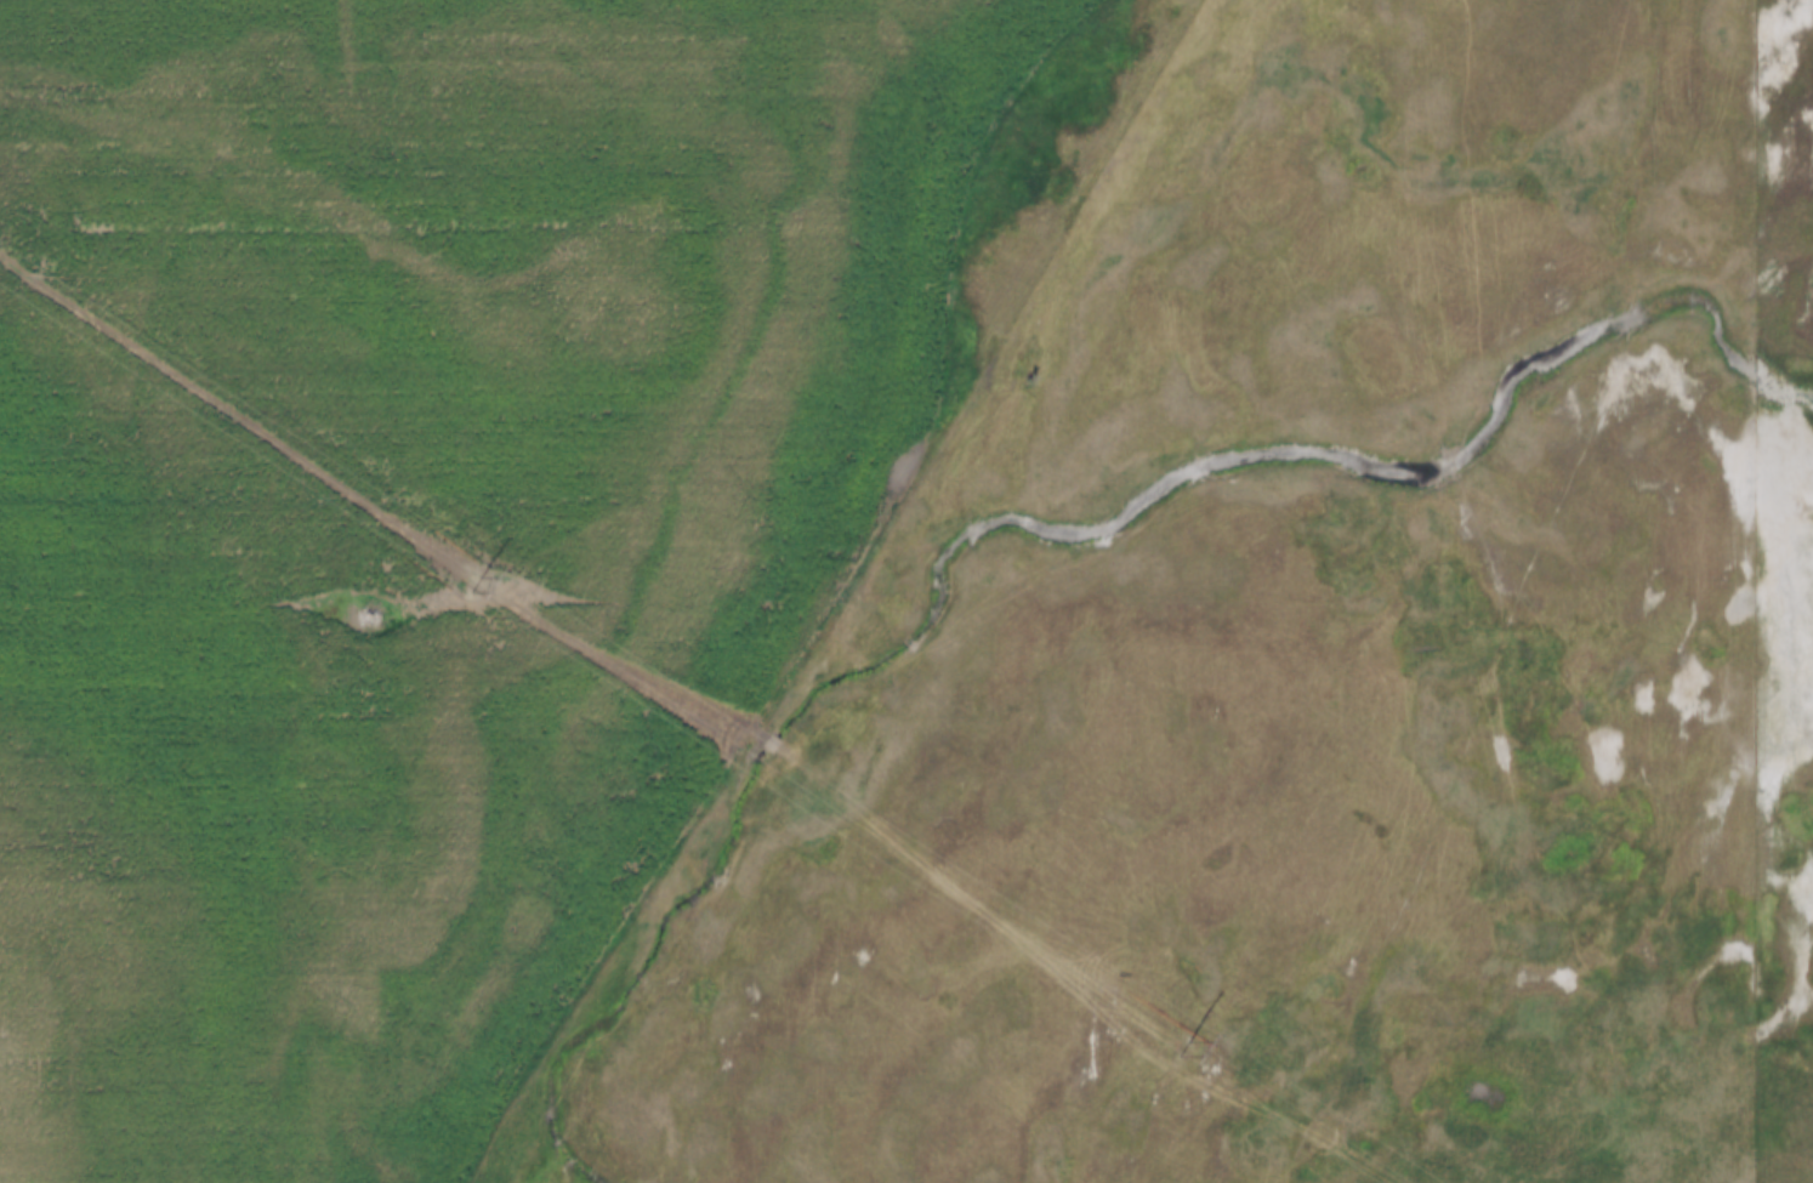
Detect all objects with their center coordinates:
power tower: (493, 588)
power tower: (1188, 1051)

